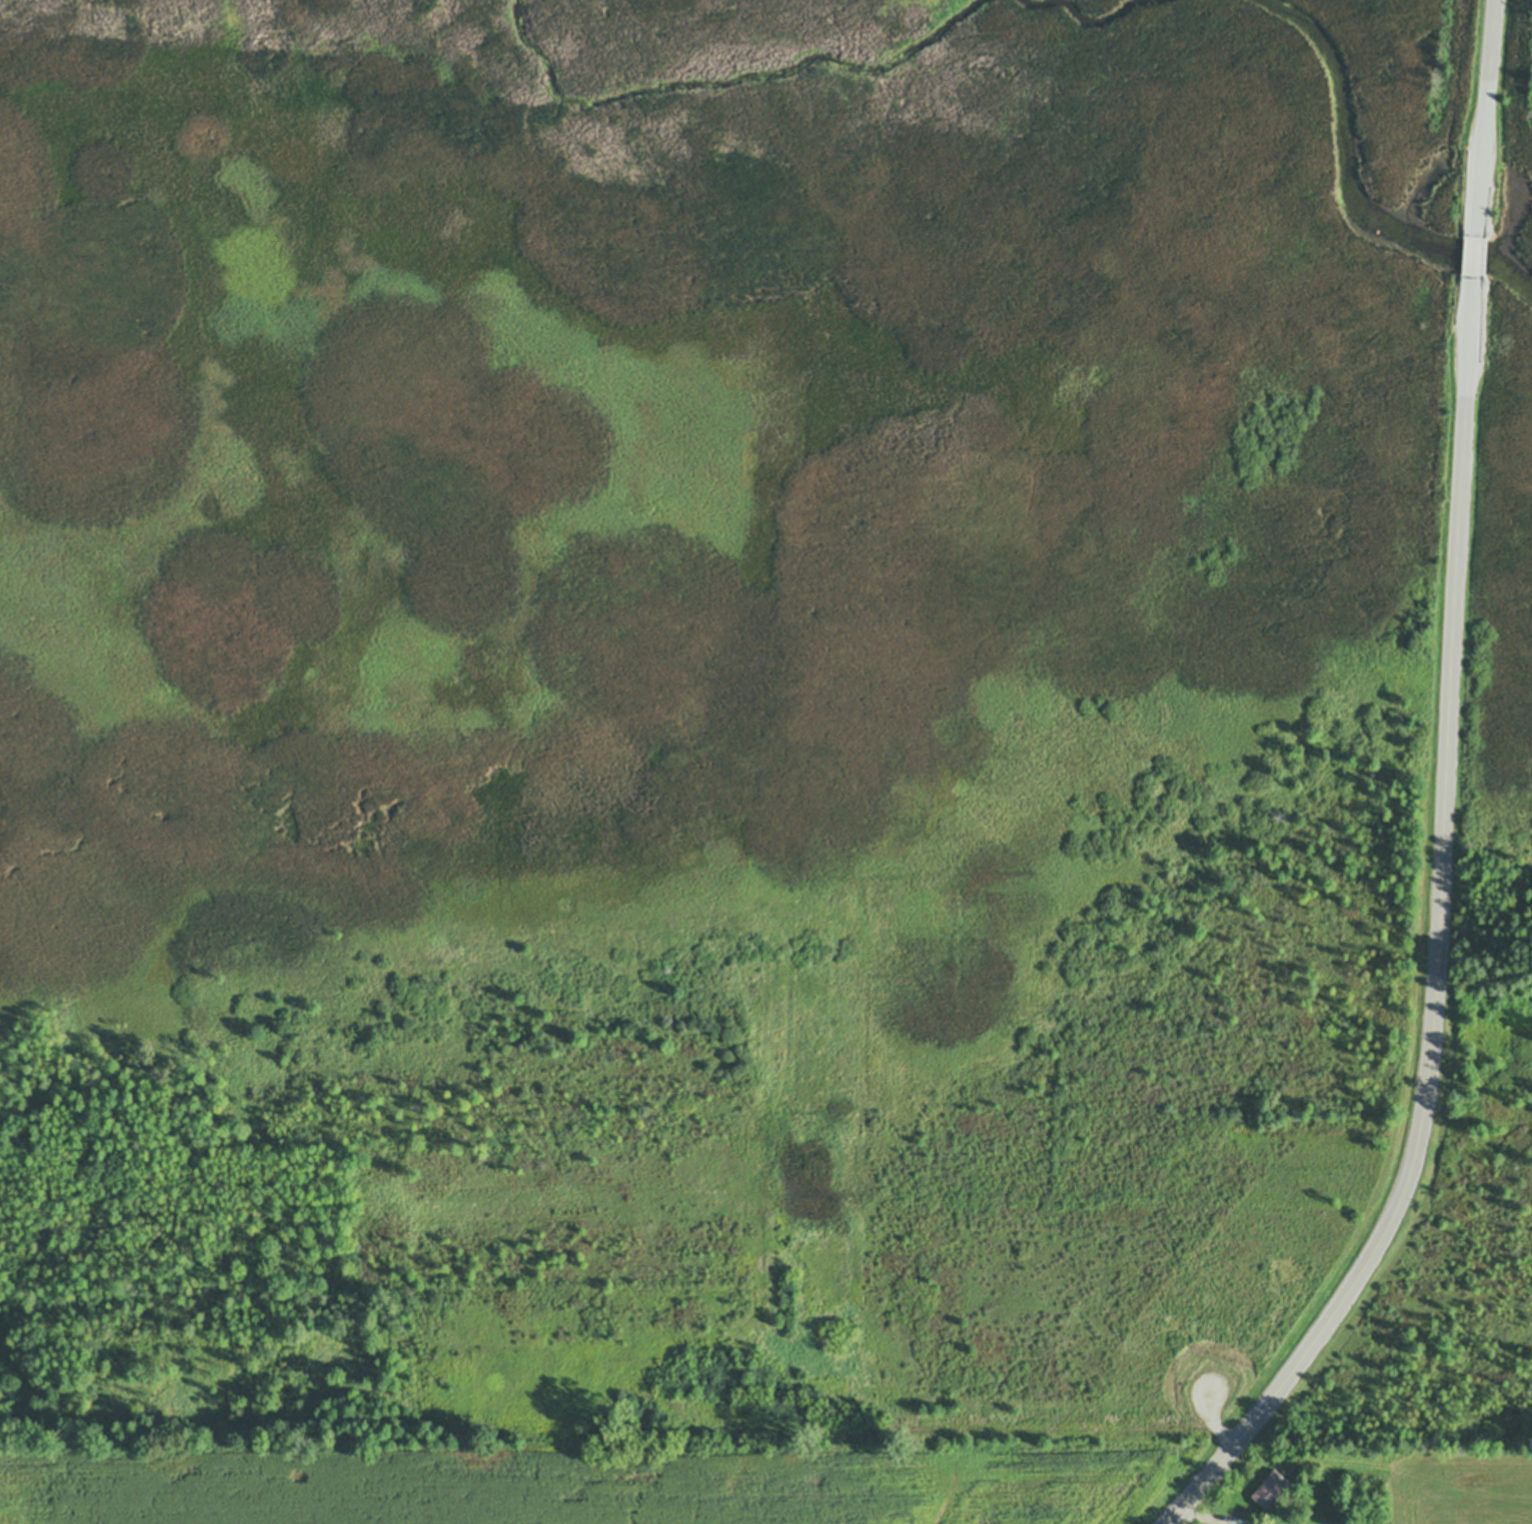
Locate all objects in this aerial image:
river: (1079, 16)
river: (729, 77)
road: (1486, 119)
river: (1353, 187)
road: (1475, 258)
road: (1441, 940)
building: (677, 1370)
building: (1141, 1421)
building: (1270, 1488)

